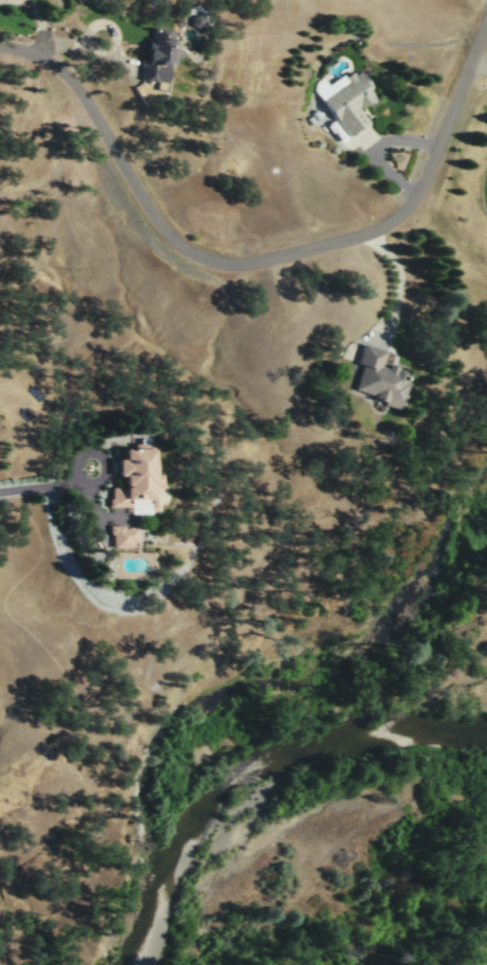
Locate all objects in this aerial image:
building: (195, 19)
road: (96, 22)
road: (41, 23)
road: (63, 42)
building: (157, 56)
road: (120, 59)
road: (481, 65)
building: (348, 98)
road: (375, 145)
road: (253, 259)
road: (397, 282)
building: (378, 376)
road: (102, 455)
building: (137, 476)
road: (37, 484)
building: (121, 535)
river: (440, 733)
river: (253, 759)
river: (146, 917)

